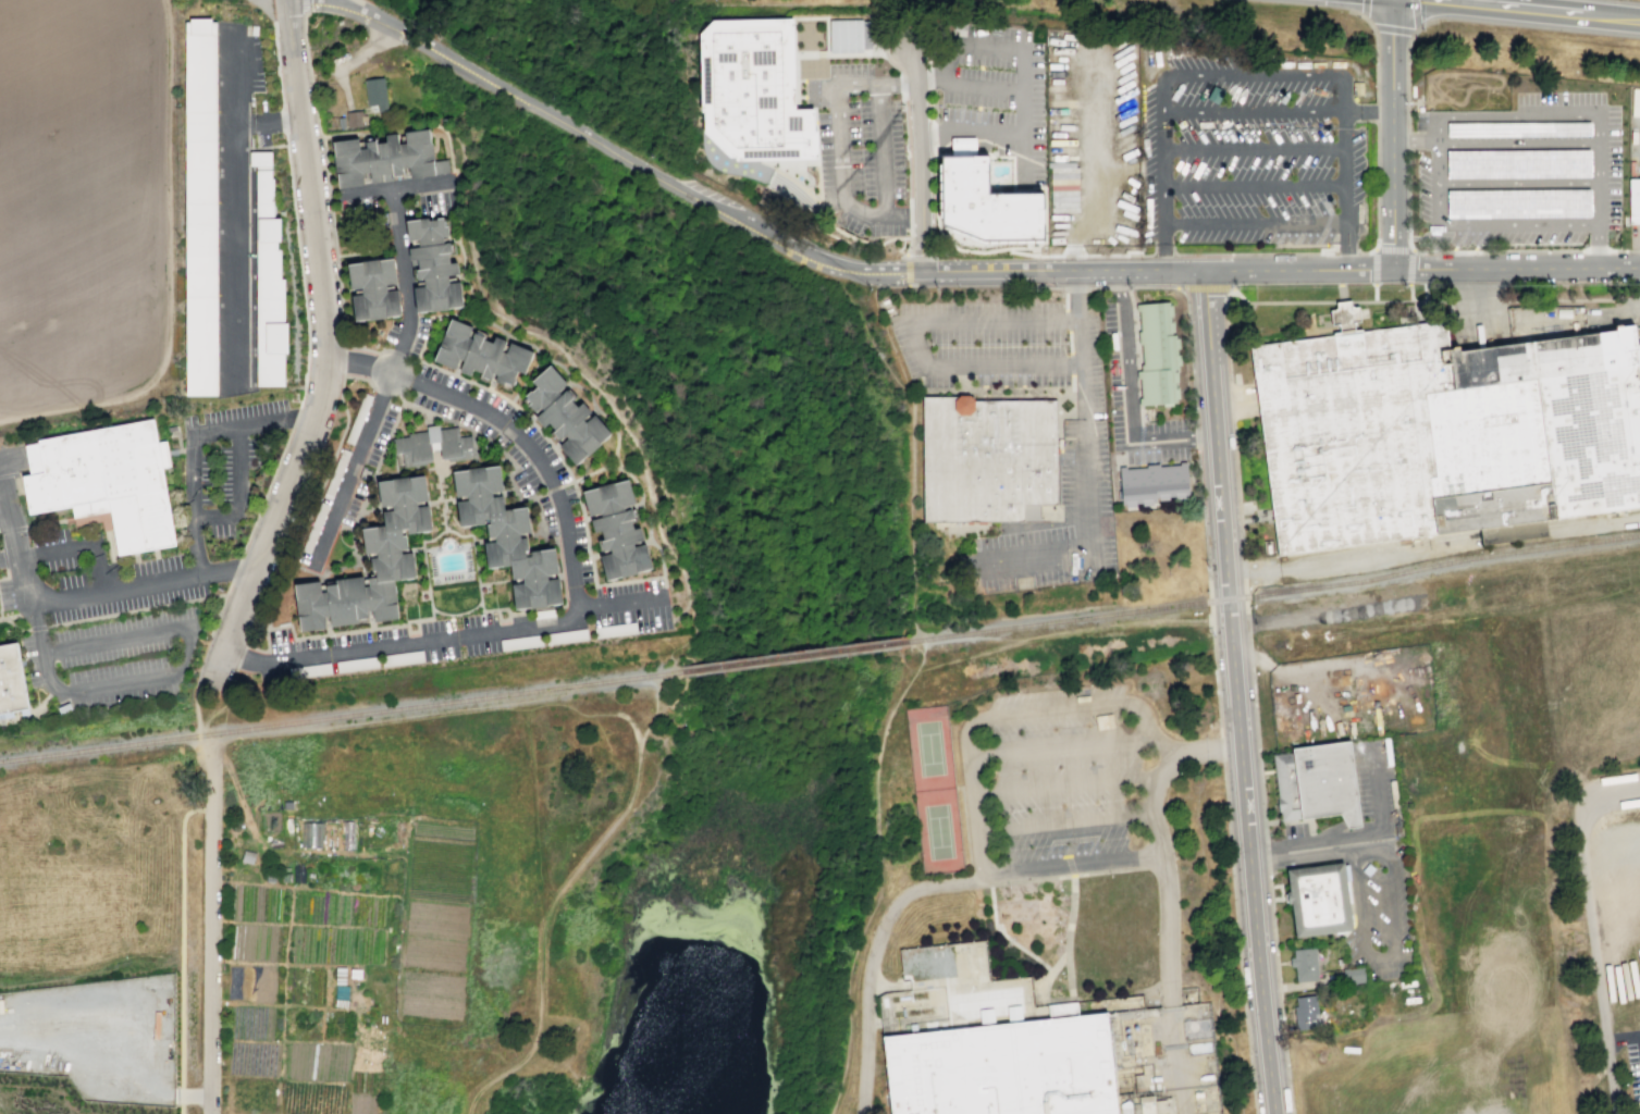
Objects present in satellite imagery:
road: (335, 0)
road: (304, 7)
road: (1364, 9)
road: (1532, 11)
road: (1359, 14)
road: (1416, 15)
road: (1394, 28)
building: (841, 33)
road: (412, 34)
road: (1020, 50)
road: (357, 54)
road: (889, 62)
road: (1377, 63)
road: (234, 75)
road: (469, 76)
road: (1406, 77)
road: (901, 82)
road: (928, 83)
parking lot: (258, 88)
park: (1466, 89)
park: (1460, 90)
road: (1337, 91)
building: (375, 94)
building: (749, 94)
building: (1636, 101)
road: (929, 107)
road: (1364, 111)
road: (1376, 114)
building: (352, 119)
parking lot: (854, 122)
road: (416, 123)
road: (1436, 127)
road: (316, 134)
road: (1392, 134)
road: (590, 135)
parking lot: (852, 136)
road: (932, 137)
road: (1407, 139)
road: (1414, 140)
road: (907, 147)
road: (1163, 149)
road: (1254, 149)
parking lot: (1249, 150)
road: (921, 154)
building: (387, 158)
road: (1021, 158)
road: (1436, 162)
road: (1095, 168)
road: (1345, 169)
building: (762, 172)
road: (1596, 172)
parking lot: (1520, 177)
road: (1254, 185)
building: (1063, 186)
road: (395, 187)
road: (668, 187)
road: (839, 190)
road: (1376, 197)
building: (985, 198)
road: (934, 199)
crop: (87, 200)
building: (1633, 201)
road: (1436, 202)
building: (200, 206)
road: (909, 214)
road: (899, 215)
road: (234, 221)
road: (1253, 223)
road: (909, 244)
road: (1352, 245)
road: (1163, 246)
road: (1342, 246)
road: (991, 249)
road: (1410, 249)
road: (1596, 249)
road: (1627, 249)
road: (1596, 250)
road: (1445, 251)
road: (1346, 252)
road: (1255, 253)
road: (1032, 255)
road: (1118, 255)
road: (1161, 255)
road: (1072, 256)
road: (796, 257)
road: (817, 257)
road: (907, 263)
building: (431, 264)
road: (1373, 265)
road: (1516, 267)
road: (1336, 268)
road: (1062, 269)
road: (1298, 269)
road: (914, 271)
road: (167, 276)
road: (908, 277)
building: (269, 283)
road: (987, 285)
building: (373, 287)
road: (1204, 287)
street lamp: (957, 288)
road: (1076, 288)
road: (1097, 288)
road: (1118, 288)
road: (1341, 290)
road: (1374, 292)
road: (1410, 292)
road: (1632, 298)
road: (1342, 299)
road: (1565, 299)
road: (1407, 300)
road: (1481, 300)
road: (1235, 301)
road: (1279, 301)
road: (1344, 301)
road: (1485, 301)
road: (1614, 311)
road: (1241, 332)
road: (915, 335)
road: (331, 343)
building: (1155, 351)
building: (481, 352)
road: (389, 382)
road: (579, 384)
road: (1130, 396)
parking lot: (1136, 400)
building: (564, 414)
building: (1442, 431)
road: (194, 442)
parking lot: (1089, 443)
building: (432, 445)
building: (986, 457)
road: (911, 472)
building: (107, 483)
building: (1152, 483)
road: (239, 493)
road: (1087, 503)
road: (5, 510)
road: (12, 510)
railway: (1592, 519)
road: (1599, 523)
building: (615, 528)
railway: (1510, 530)
building: (1512, 531)
parking lot: (4, 533)
road: (1514, 535)
building: (505, 536)
road: (81, 539)
railway: (1432, 541)
road: (11, 559)
road: (1348, 560)
building: (370, 562)
road: (124, 582)
road: (1433, 587)
railway: (1273, 592)
road: (583, 595)
road: (625, 602)
road: (1210, 614)
parking lot: (111, 621)
road: (1061, 631)
railway: (793, 655)
road: (162, 674)
road: (666, 678)
building: (11, 685)
road: (1235, 692)
parking lot: (1352, 697)
road: (1254, 700)
road: (195, 708)
railway: (340, 714)
road: (1007, 714)
road: (1058, 746)
park: (929, 747)
road: (877, 767)
parking lot: (1063, 778)
building: (1316, 782)
parking lot: (1377, 783)
road: (1068, 784)
road: (1064, 822)
road: (964, 826)
park: (938, 830)
road: (1072, 840)
road: (1364, 840)
road: (1162, 844)
road: (1070, 847)
road: (1608, 864)
road: (1069, 866)
road: (1062, 876)
road: (406, 879)
road: (975, 880)
road: (921, 887)
road: (563, 889)
building: (1319, 900)
parking lot: (1380, 911)
road: (1590, 931)
road: (1004, 936)
road: (209, 938)
road: (1068, 938)
road: (181, 952)
road: (1381, 960)
building: (1304, 963)
road: (1047, 975)
building: (1352, 975)
crop: (273, 989)
road: (850, 992)
building: (1305, 1012)
building: (1014, 1013)
road: (1175, 1059)
parking lot: (1633, 1066)
building: (1003, 1068)

